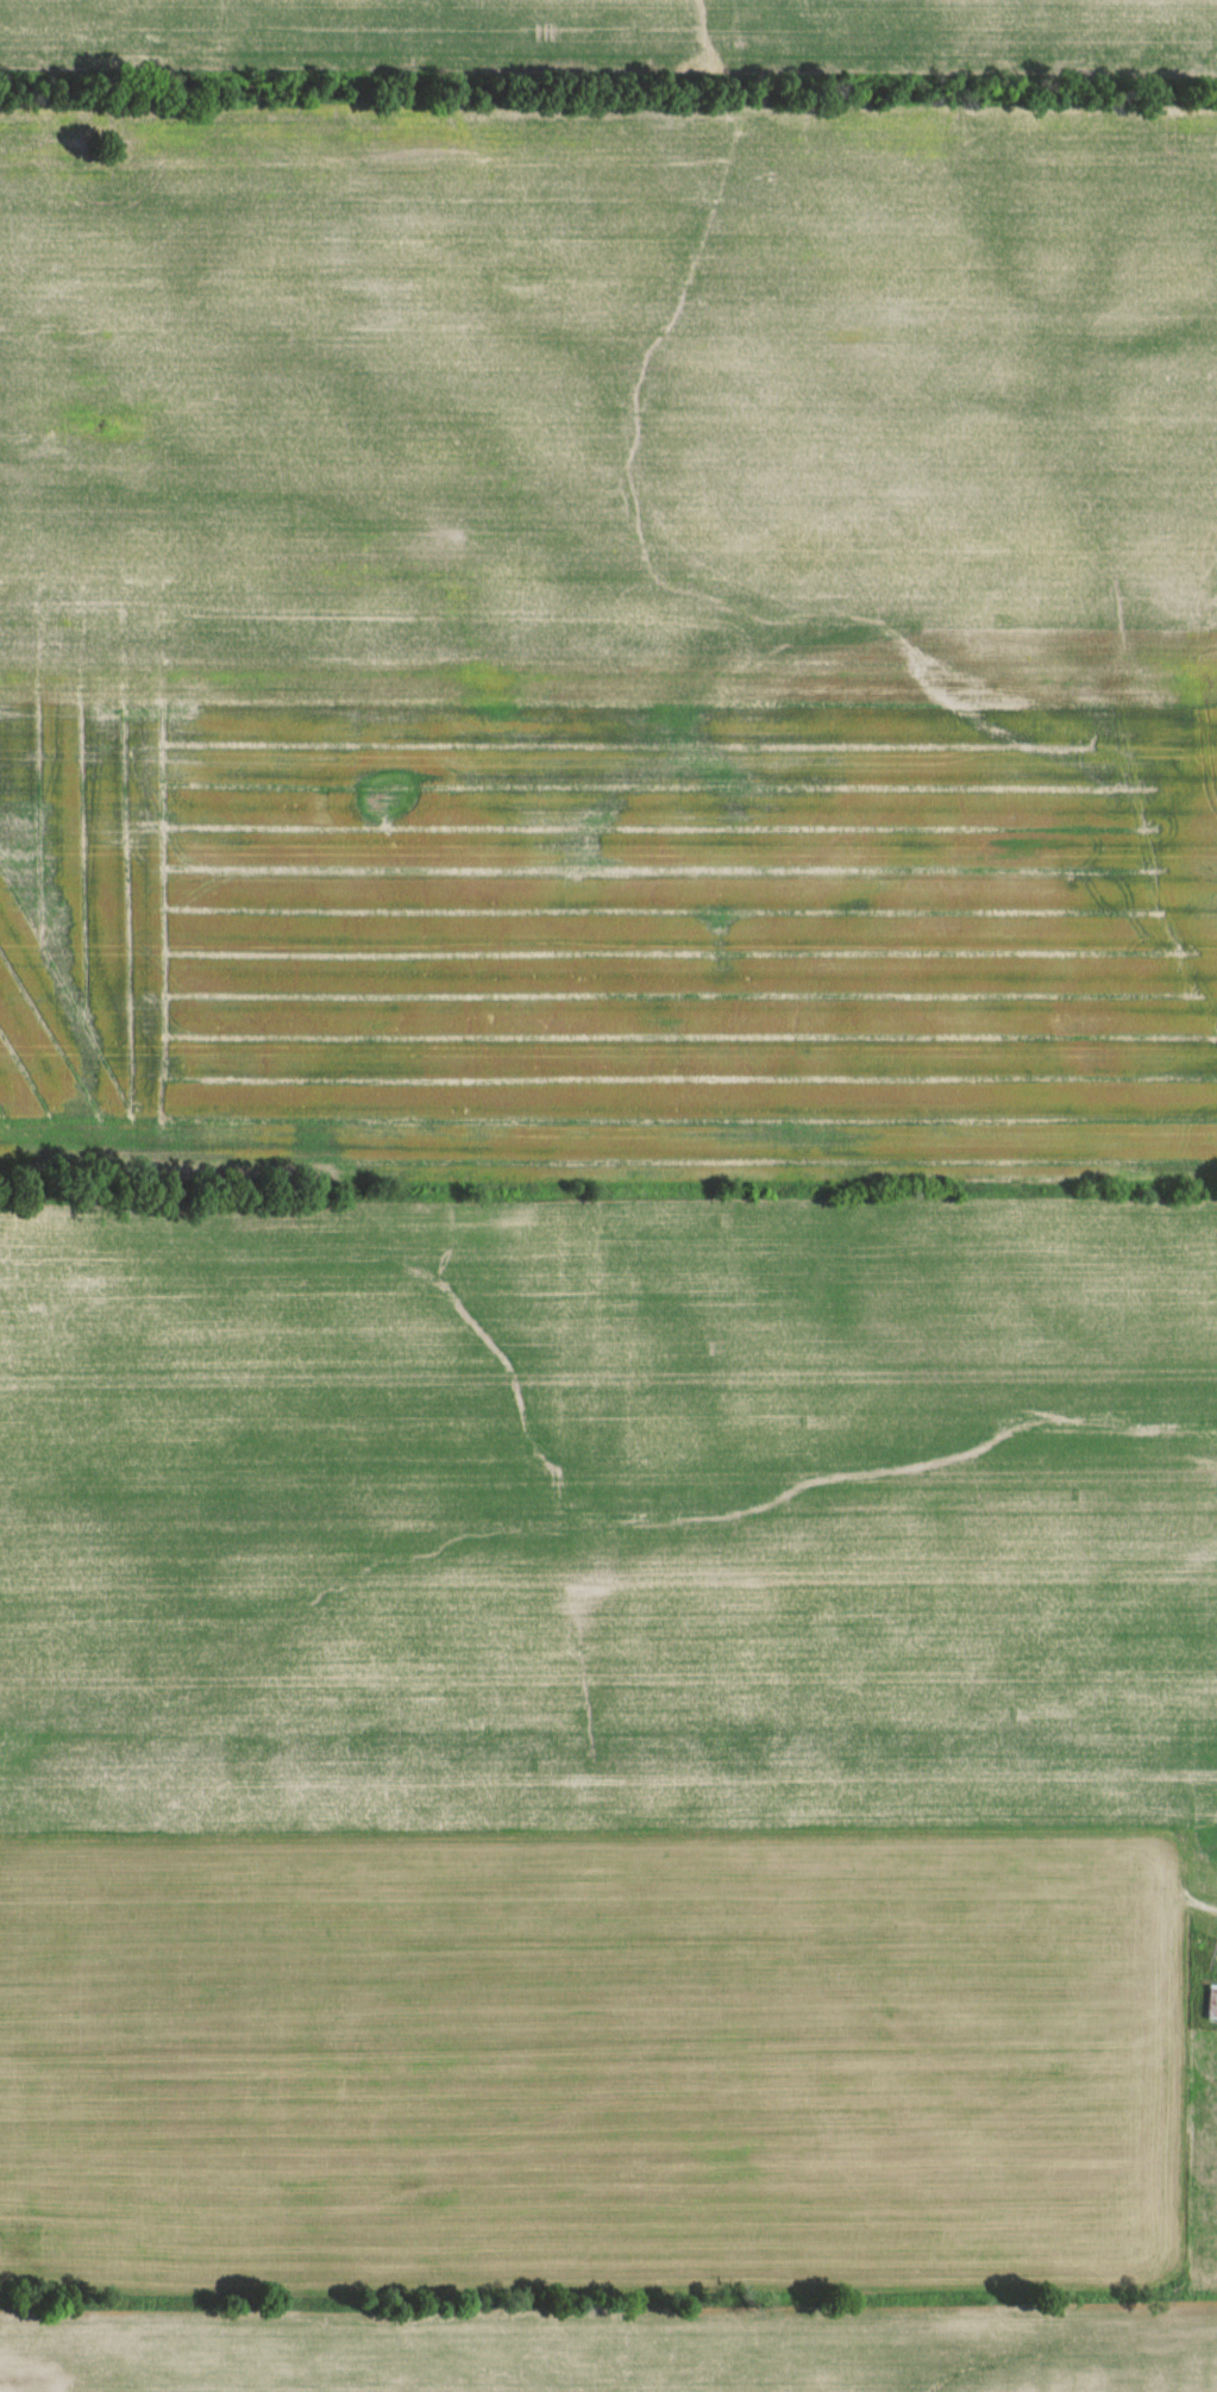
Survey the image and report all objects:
building: (1213, 2002)

